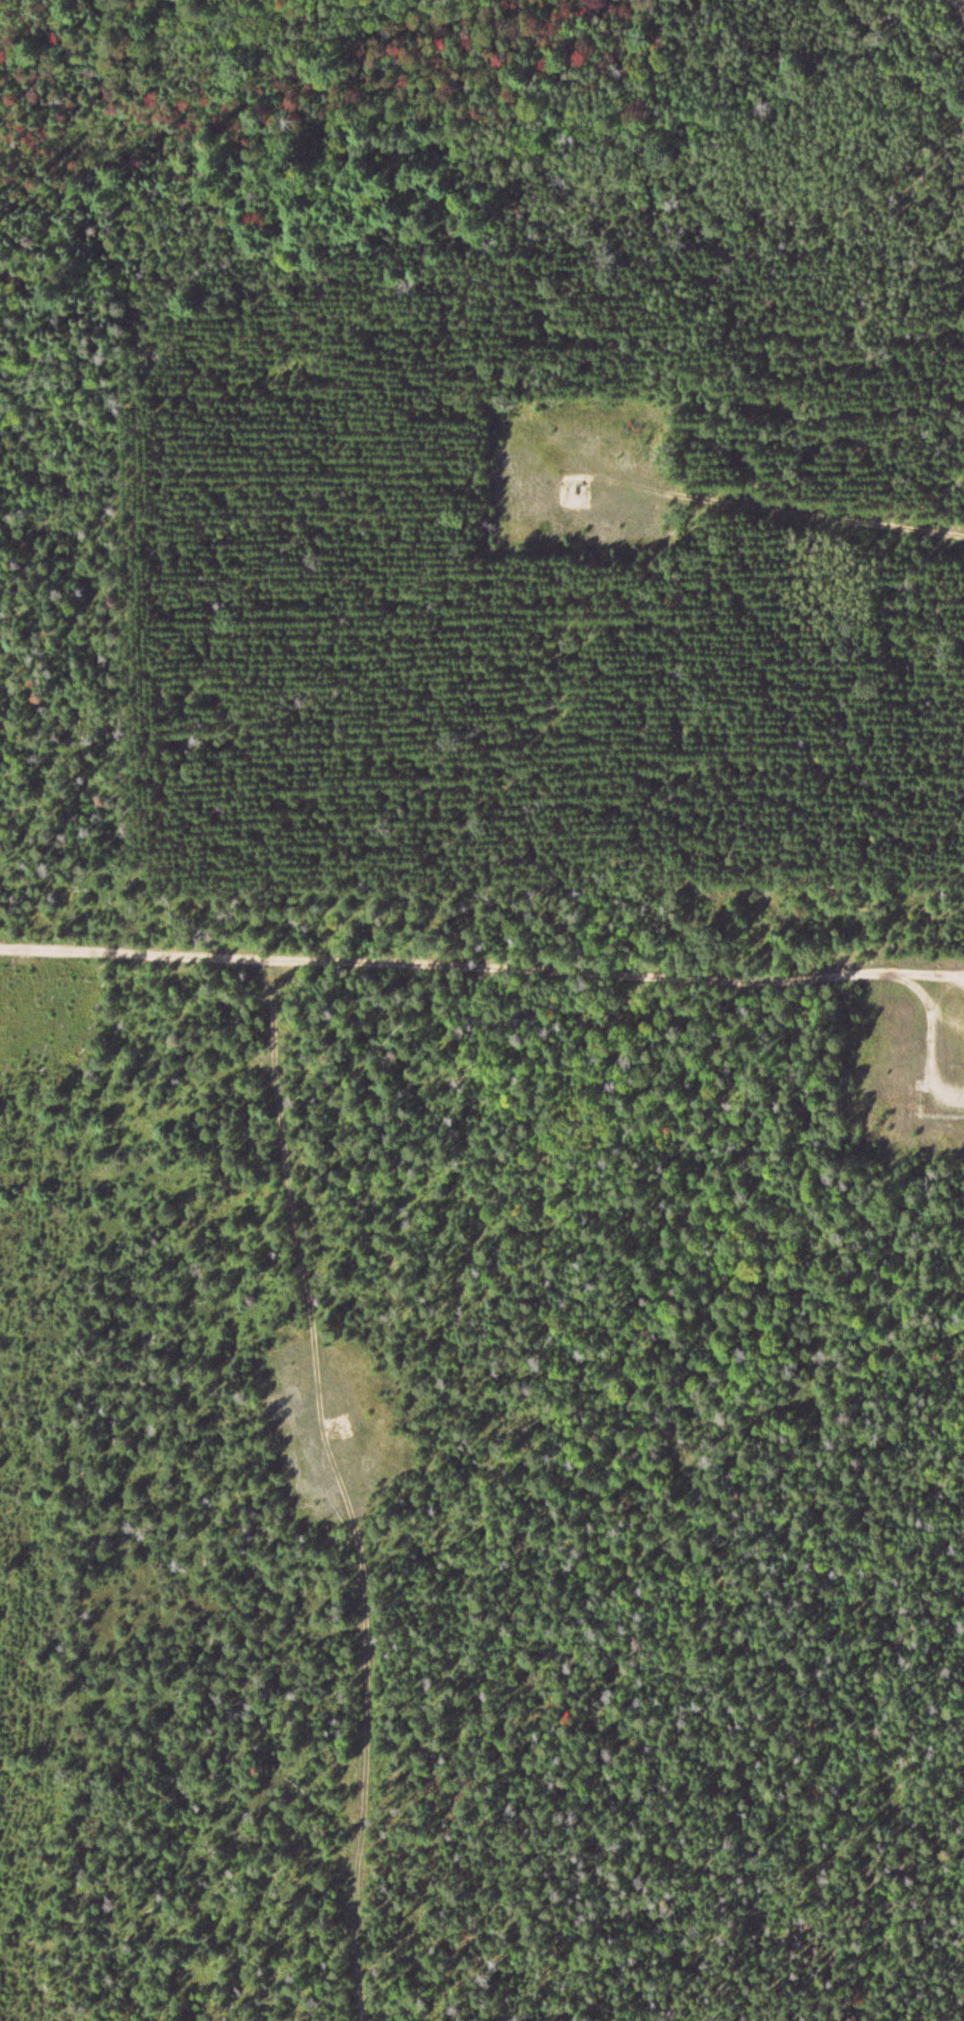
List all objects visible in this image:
road: (962, 2)
petroleum well: (570, 490)
road: (785, 507)
road: (482, 964)

